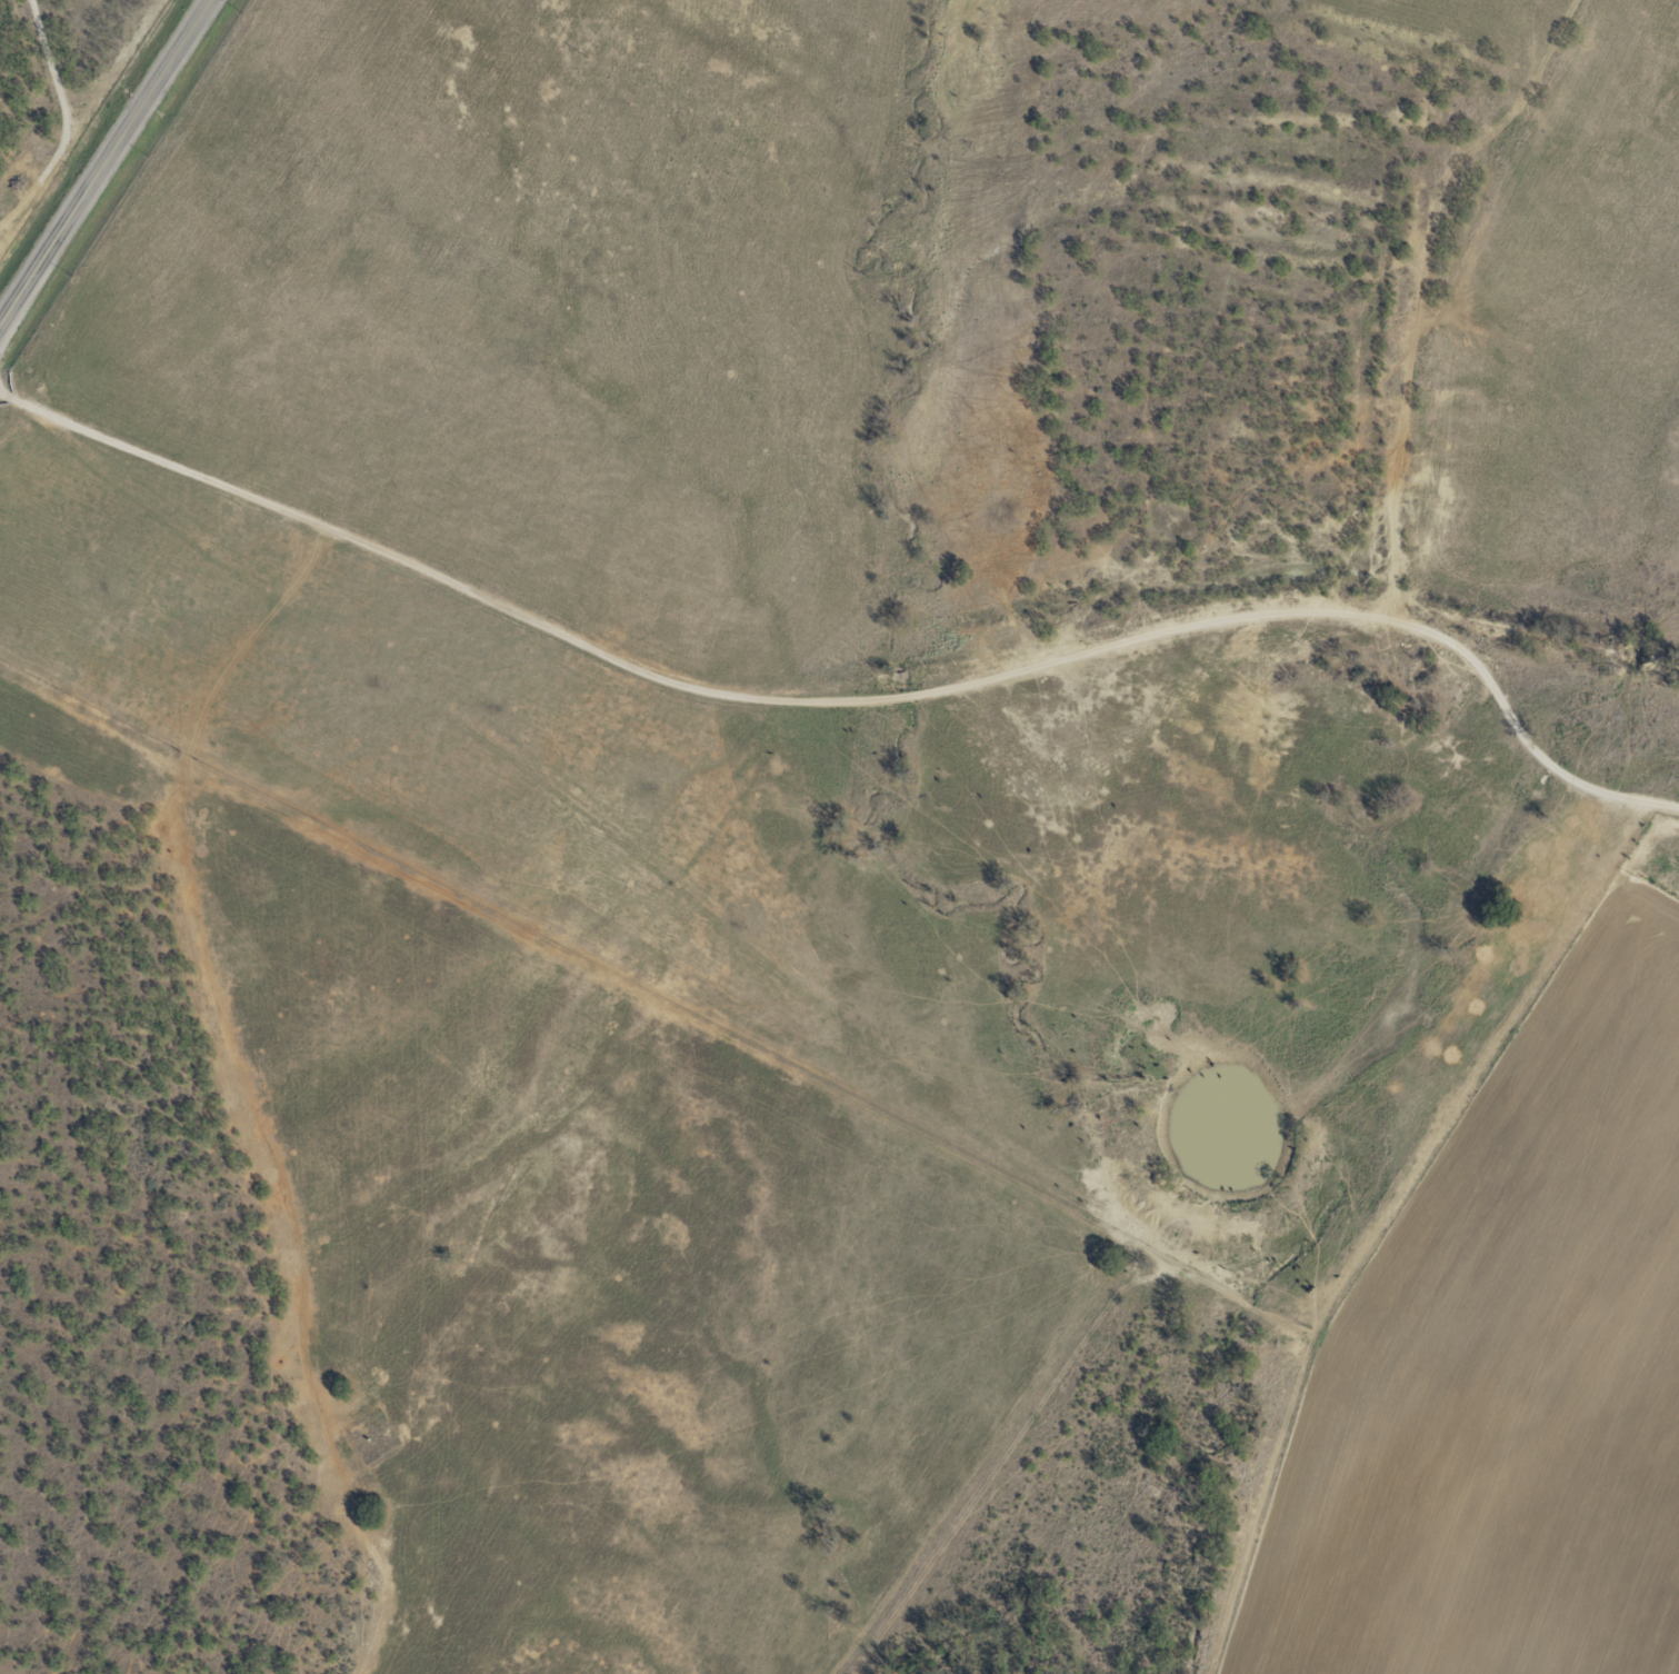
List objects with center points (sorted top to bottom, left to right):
road: (104, 162)
road: (207, 890)

